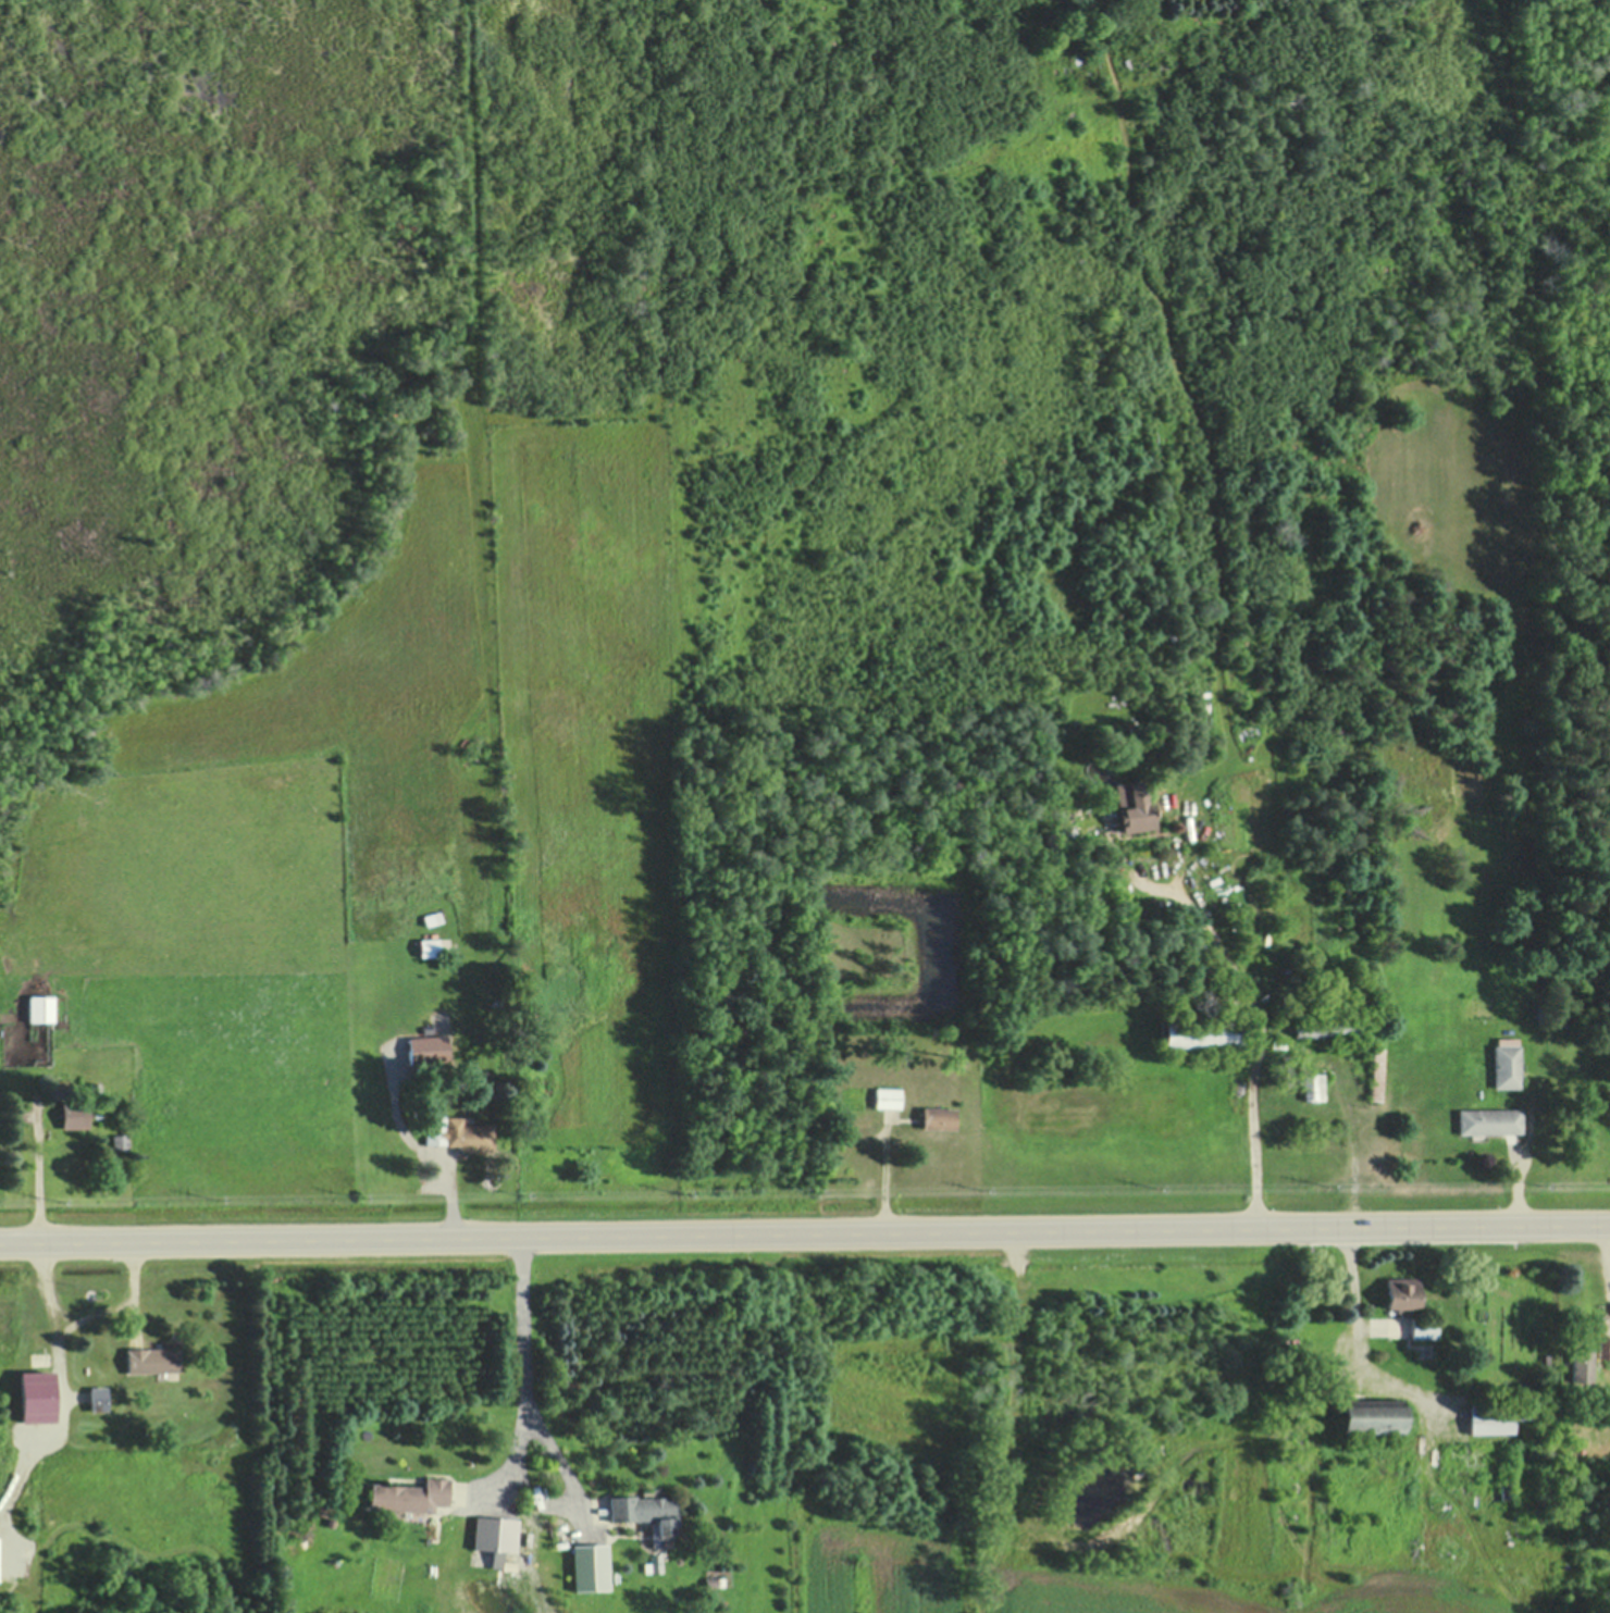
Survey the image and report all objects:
building: (438, 400)
building: (1177, 632)
building: (1132, 804)
building: (1212, 879)
building: (1237, 913)
building: (433, 916)
building: (1186, 931)
building: (429, 945)
building: (1284, 969)
building: (1296, 975)
building: (1206, 983)
building: (1219, 984)
building: (1229, 992)
building: (497, 993)
building: (40, 1007)
building: (423, 1014)
building: (1325, 1022)
building: (412, 1026)
building: (429, 1027)
building: (1200, 1031)
building: (1277, 1041)
building: (421, 1042)
building: (1568, 1045)
building: (1506, 1062)
building: (1375, 1071)
building: (1311, 1084)
building: (886, 1095)
building: (1607, 1108)
building: (76, 1111)
building: (937, 1116)
building: (1609, 1117)
building: (1486, 1118)
building: (1609, 1120)
building: (459, 1133)
building: (121, 1140)
power tower: (1540, 1184)
power tower: (1327, 1186)
power tower: (1154, 1187)
power tower: (981, 1188)
power tower: (680, 1191)
power tower: (357, 1195)
power tower: (519, 1195)
power tower: (208, 1196)
power tower: (51, 1198)
road: (805, 1237)
building: (1401, 1293)
building: (1423, 1325)
building: (1601, 1344)
building: (152, 1356)
building: (1582, 1363)
building: (36, 1394)
building: (98, 1395)
building: (1555, 1402)
building: (1370, 1412)
building: (1498, 1417)
building: (1504, 1490)
building: (408, 1498)
building: (644, 1509)
building: (493, 1536)
building: (653, 1562)
building: (590, 1564)
building: (714, 1580)

